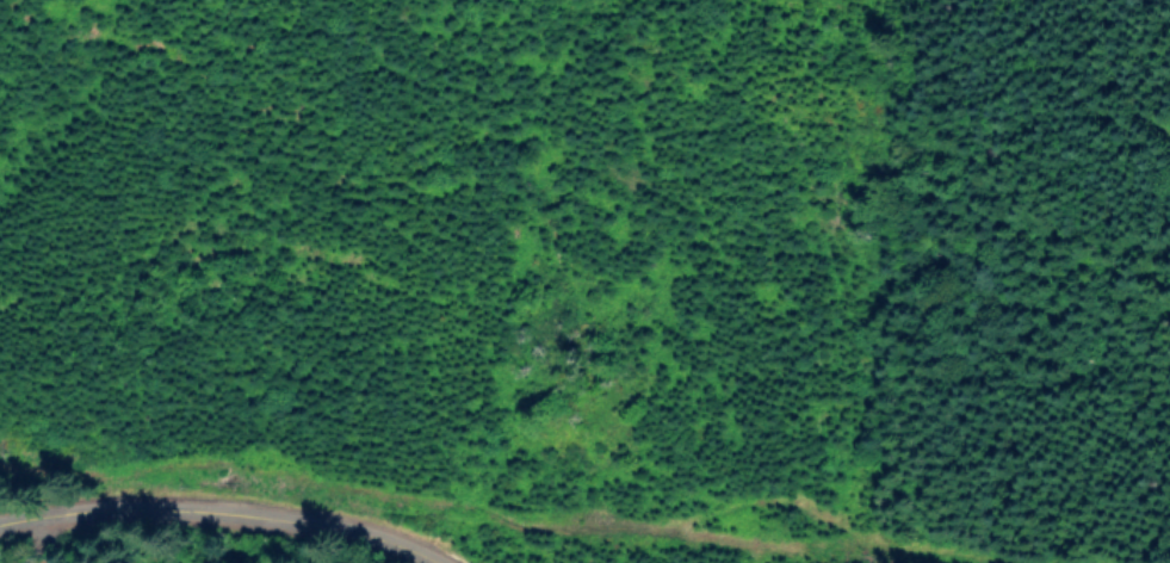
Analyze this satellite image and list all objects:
road: (222, 513)

